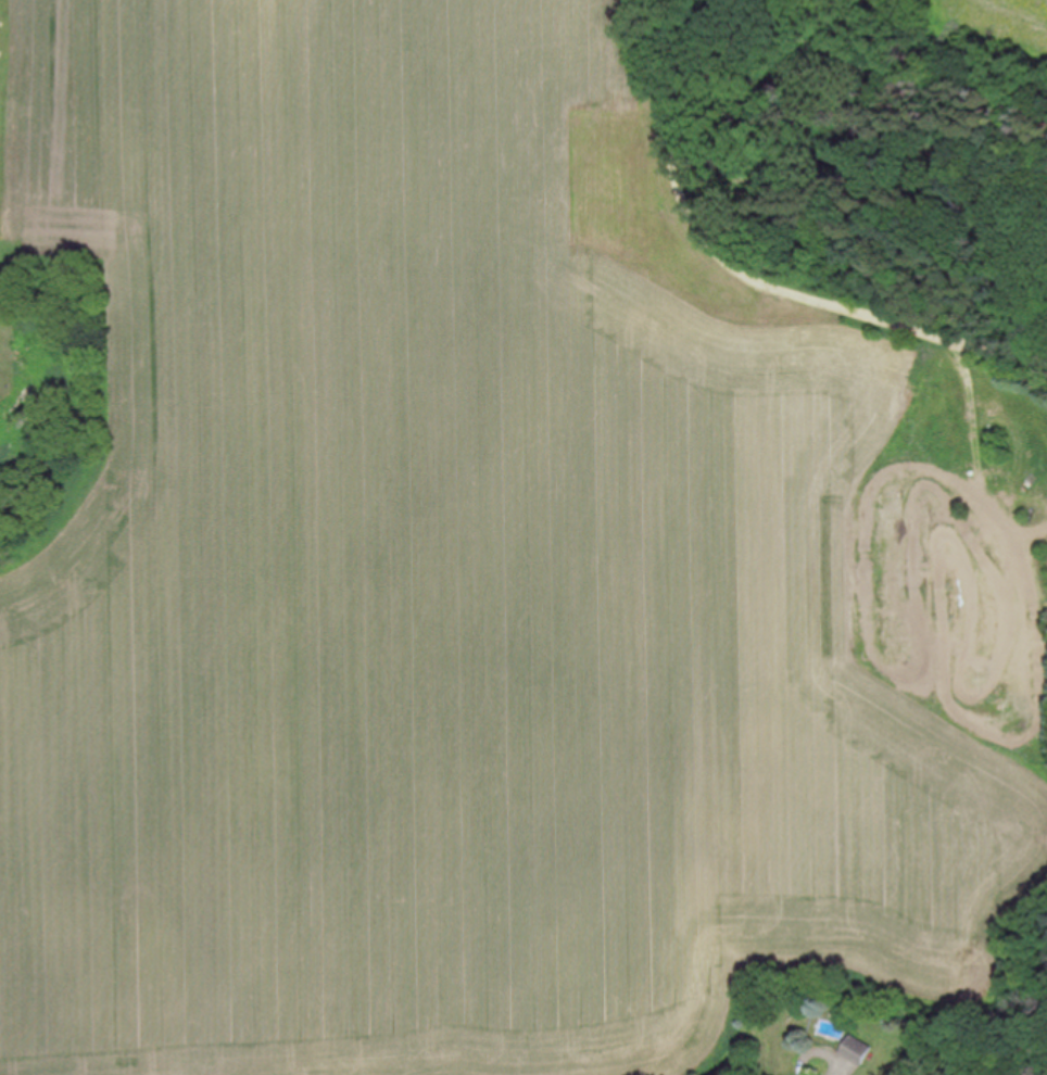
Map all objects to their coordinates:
road: (759, 268)
building: (858, 1050)

